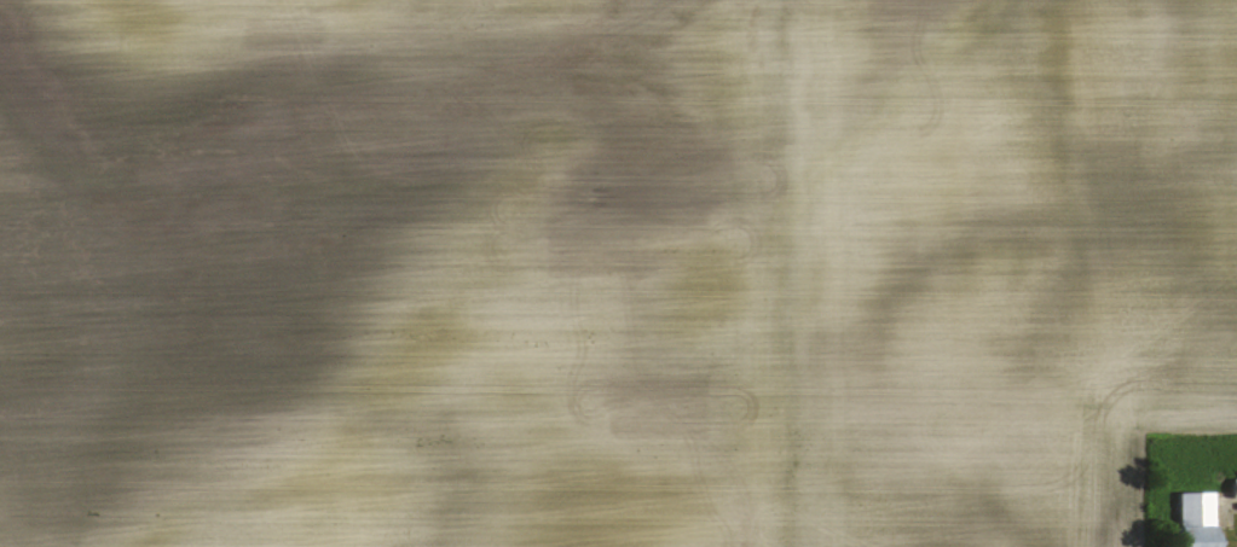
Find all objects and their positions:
building: (1187, 507)

